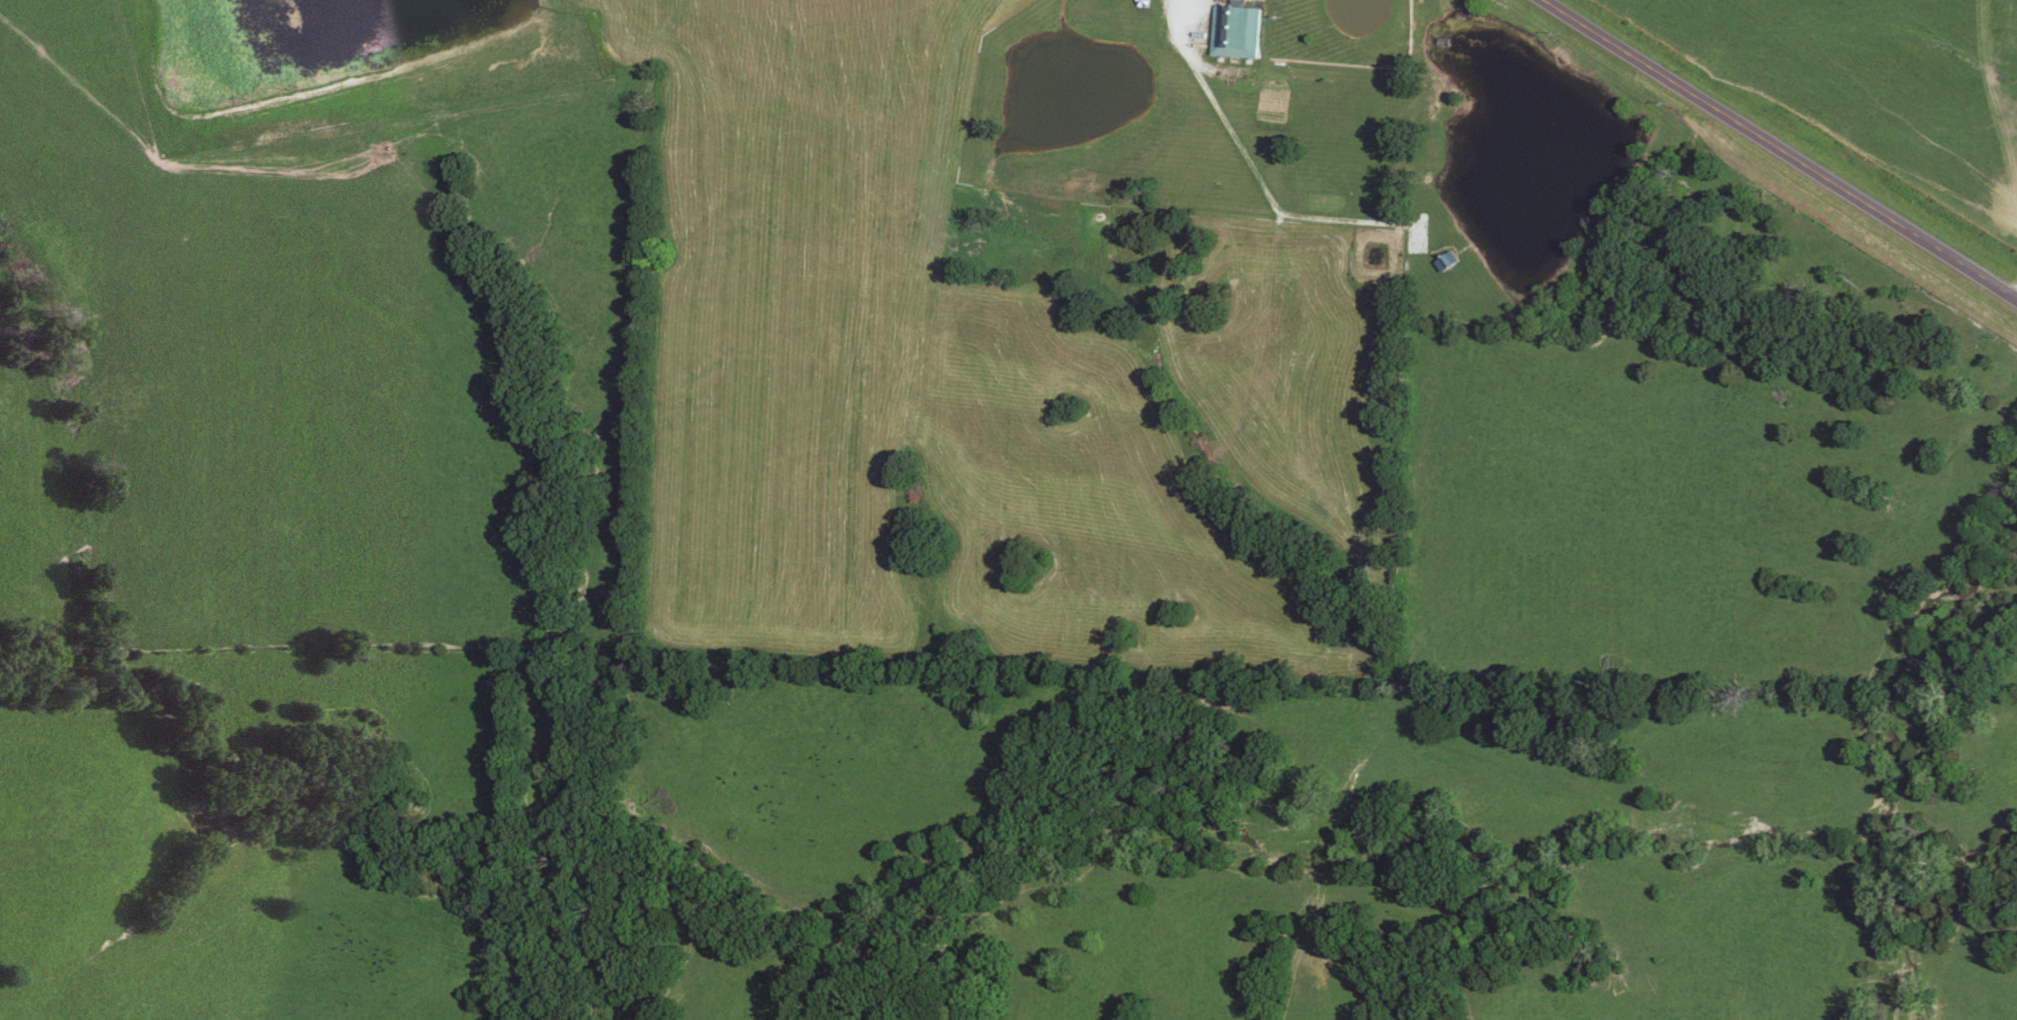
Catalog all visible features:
building: (1236, 32)
road: (1777, 151)

